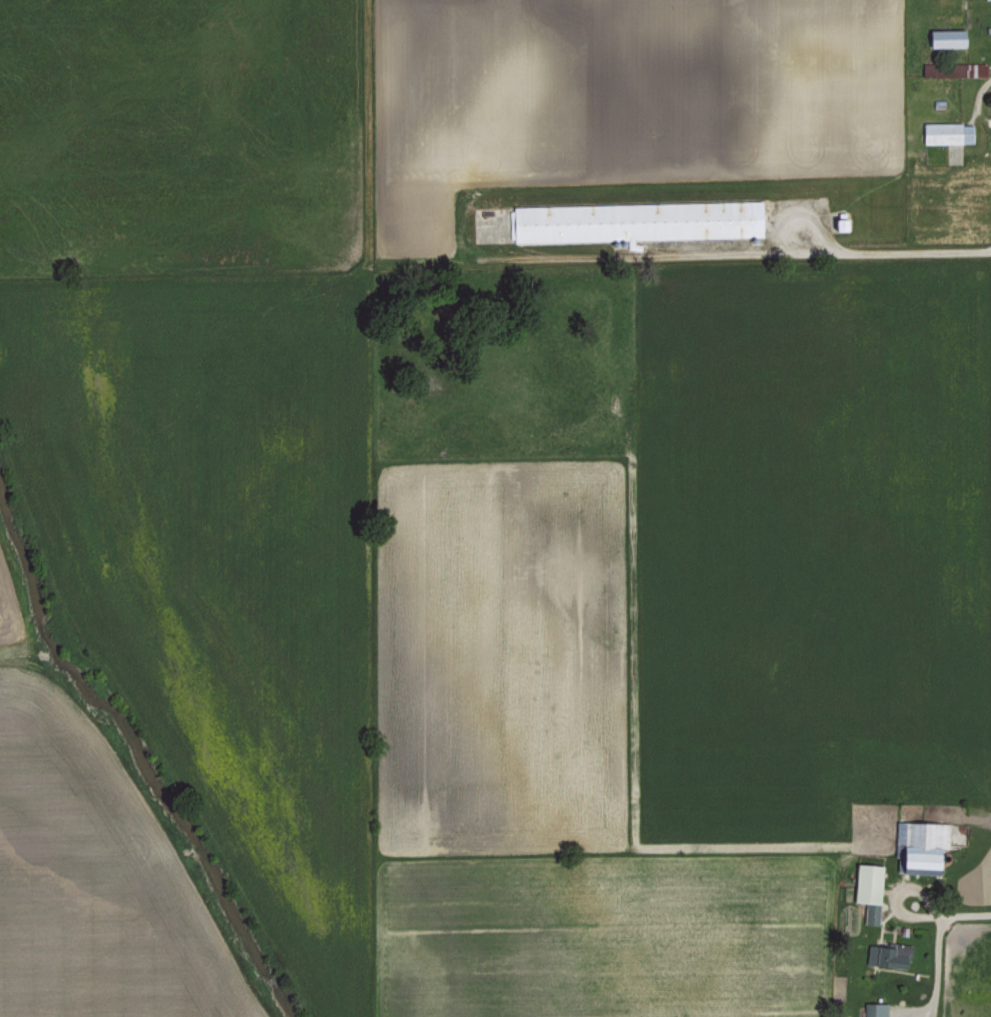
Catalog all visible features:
building: (945, 36)
building: (928, 68)
building: (968, 68)
building: (946, 131)
building: (632, 220)
building: (838, 222)
road: (890, 251)
building: (920, 845)
building: (867, 889)
road: (959, 913)
building: (885, 954)
building: (874, 1009)

